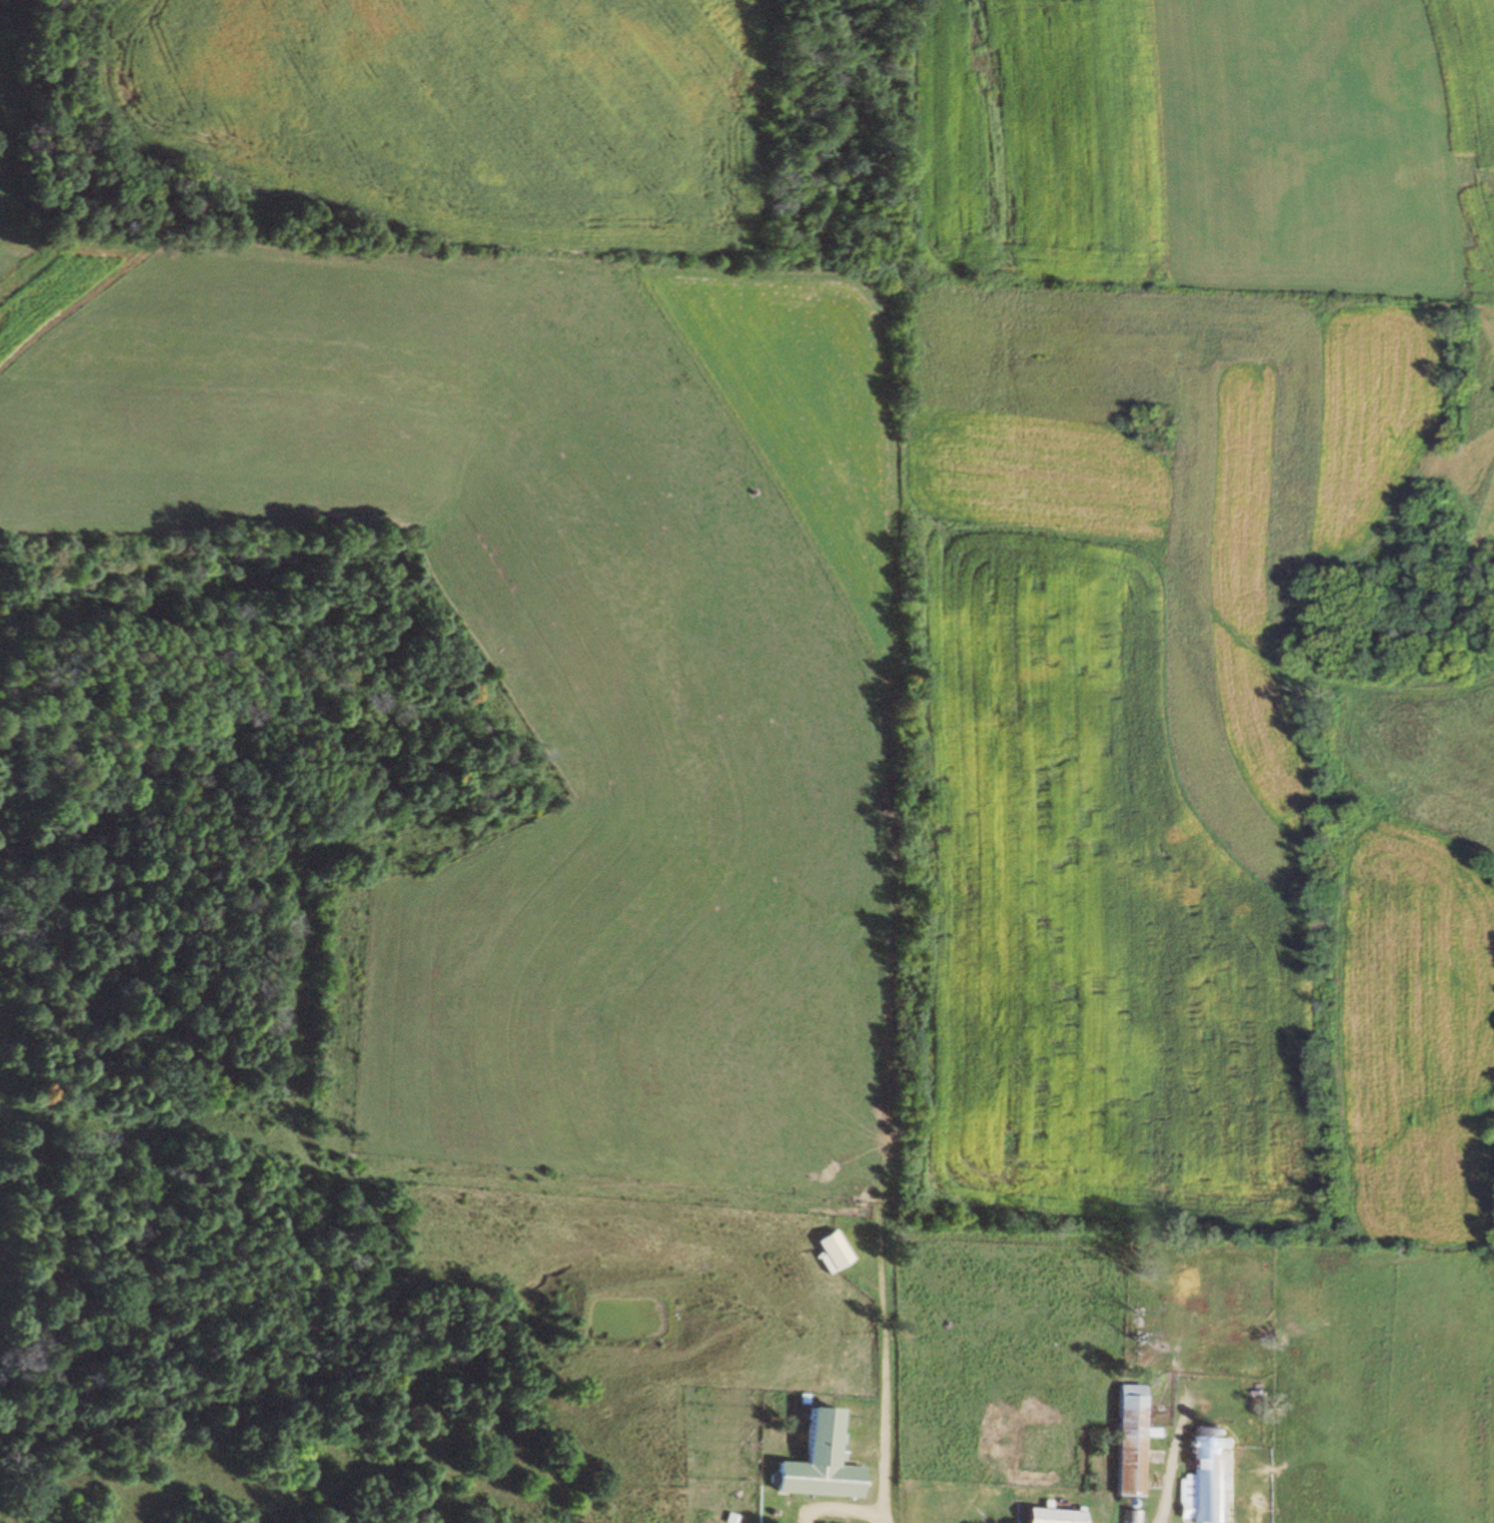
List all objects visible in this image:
building: (828, 1253)
building: (1124, 1441)
building: (816, 1462)
building: (1198, 1482)
building: (1048, 1517)
building: (1128, 1517)
road: (1043, 1521)

